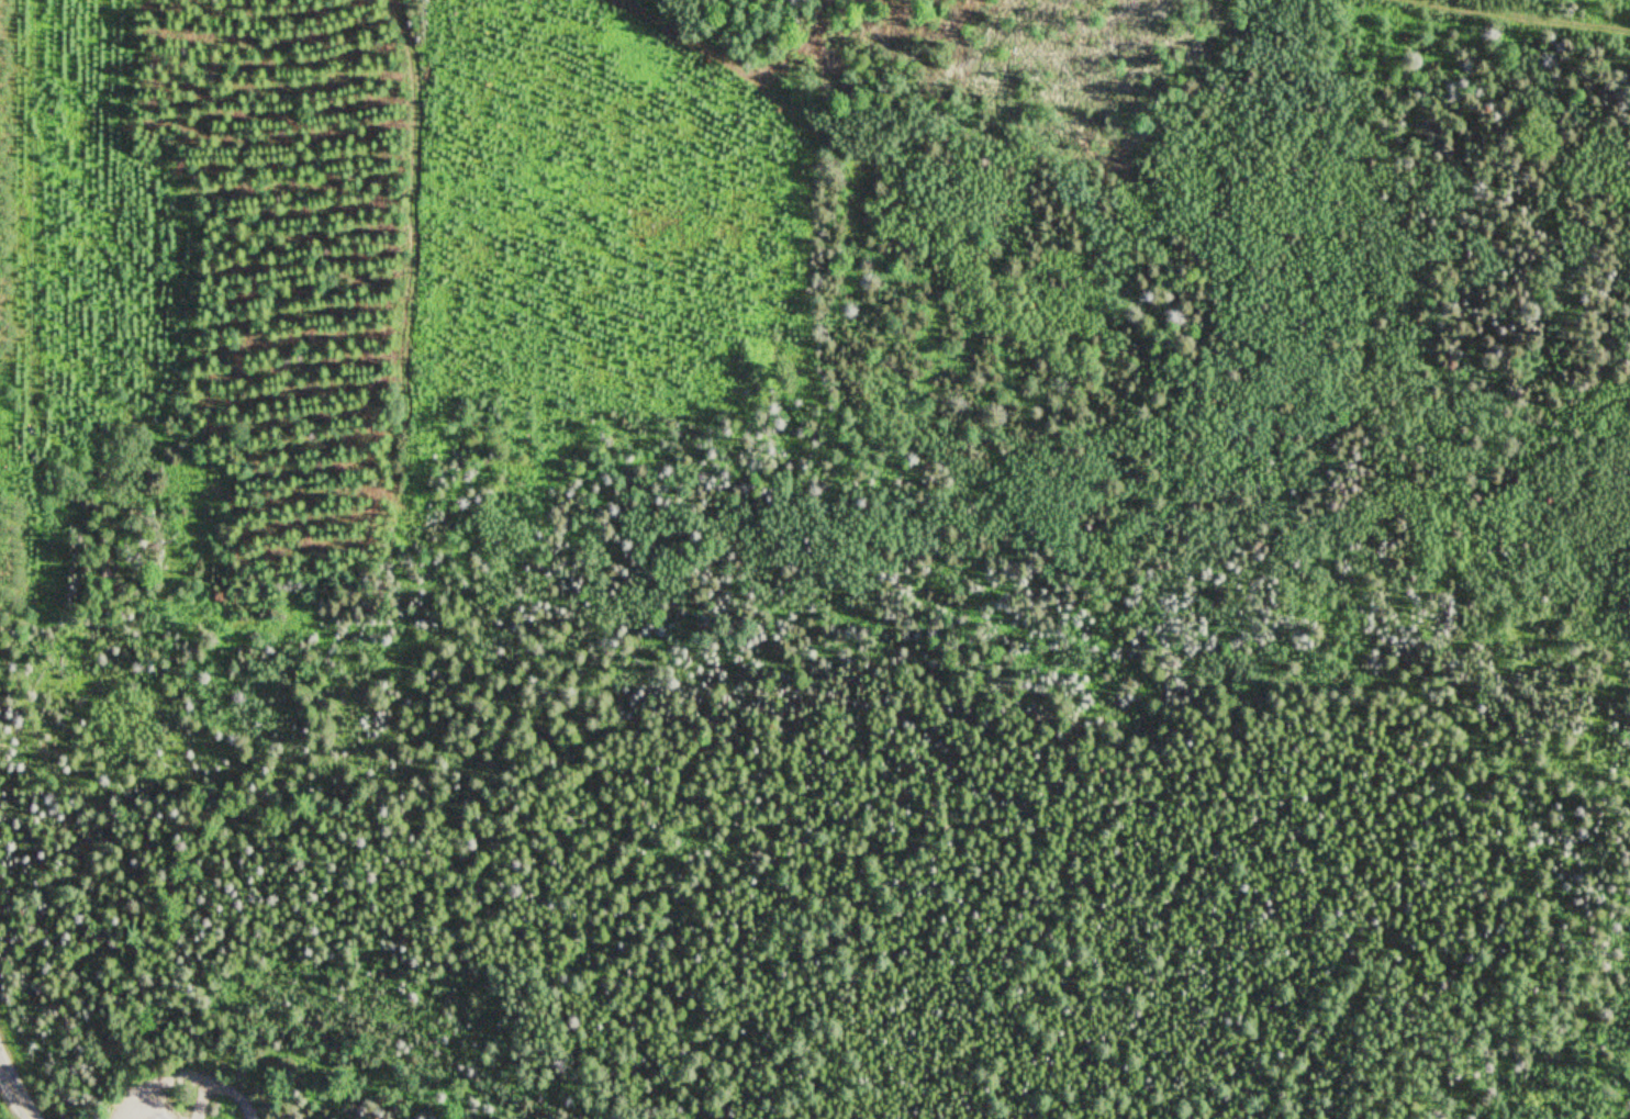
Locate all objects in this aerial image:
road: (13, 1100)

